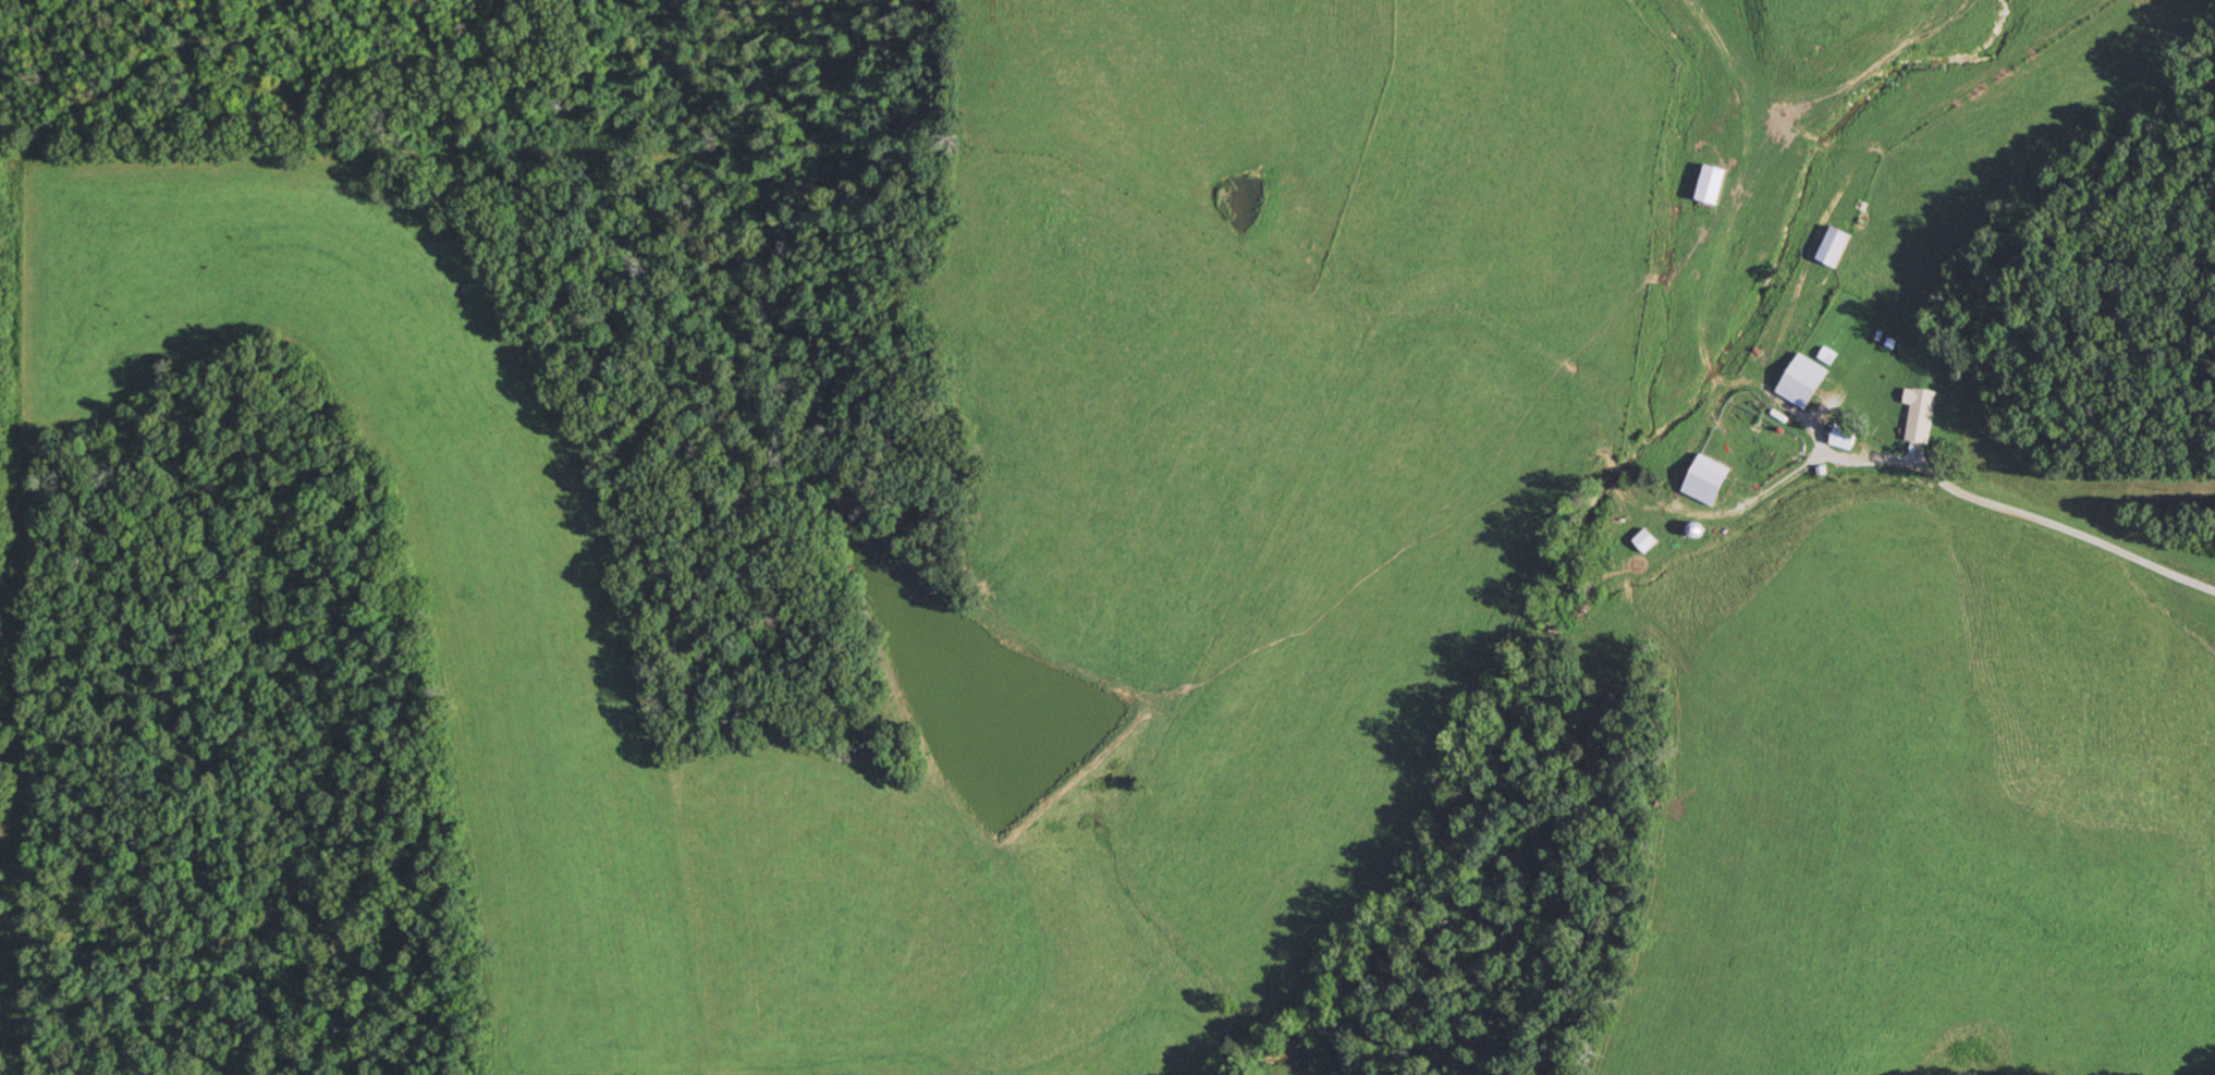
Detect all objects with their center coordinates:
building: (1712, 183)
building: (1834, 245)
building: (1826, 354)
building: (1802, 380)
building: (1919, 414)
building: (1843, 437)
building: (1705, 479)
building: (1644, 540)
road: (2063, 551)

